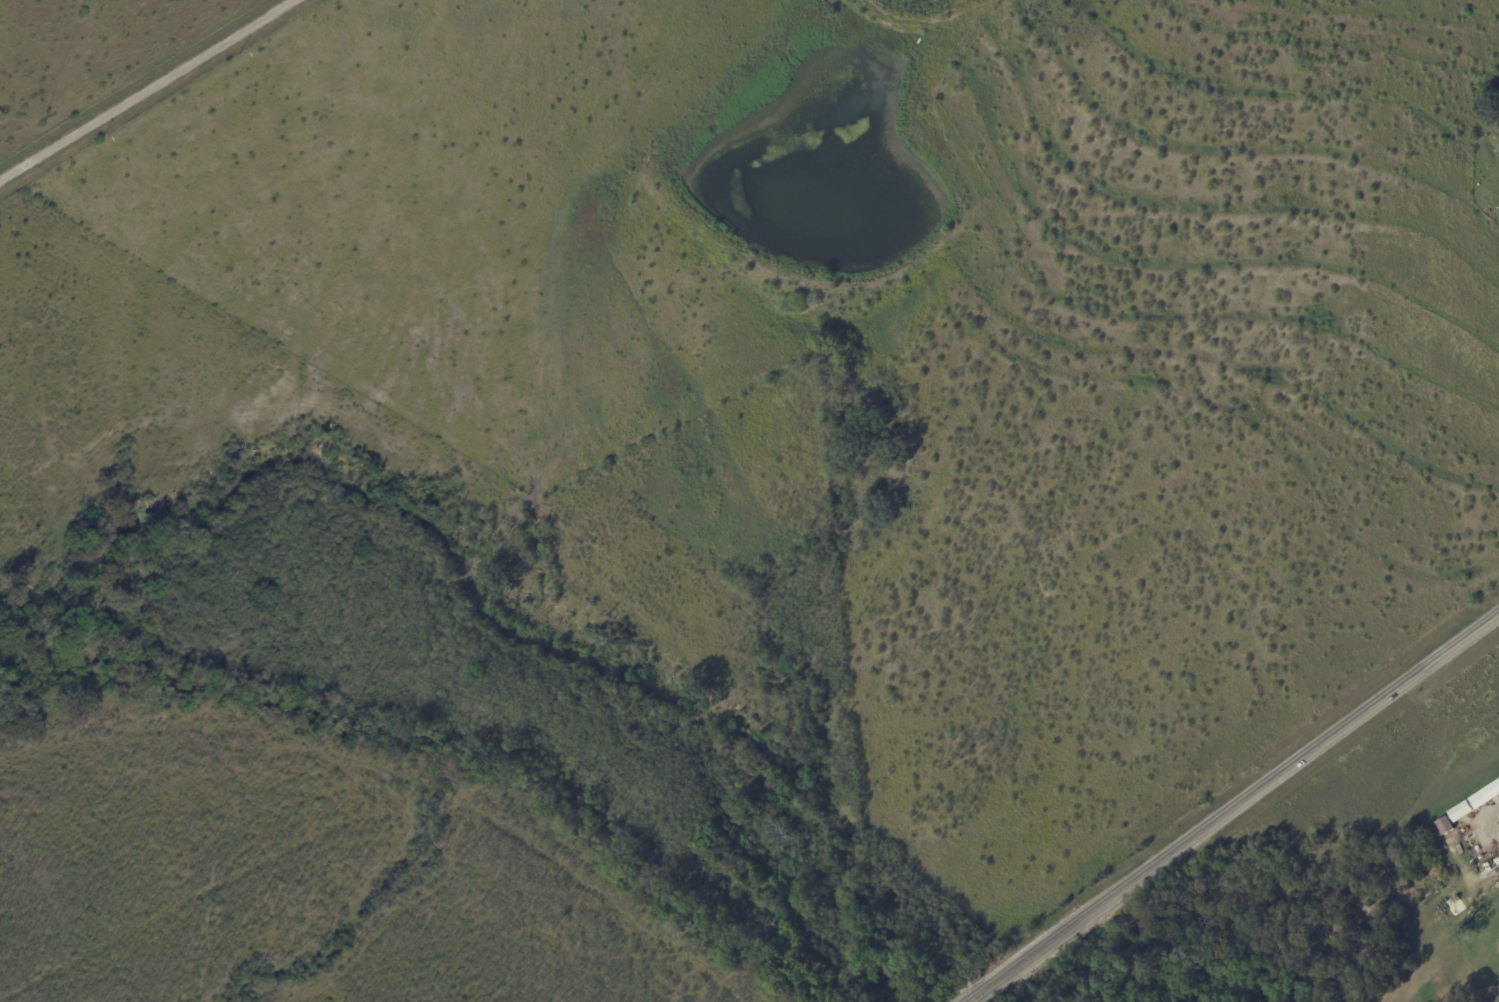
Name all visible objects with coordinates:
road: (149, 91)
building: (1476, 802)
road: (1234, 808)
building: (1447, 825)
road: (1486, 877)
park: (1350, 890)

